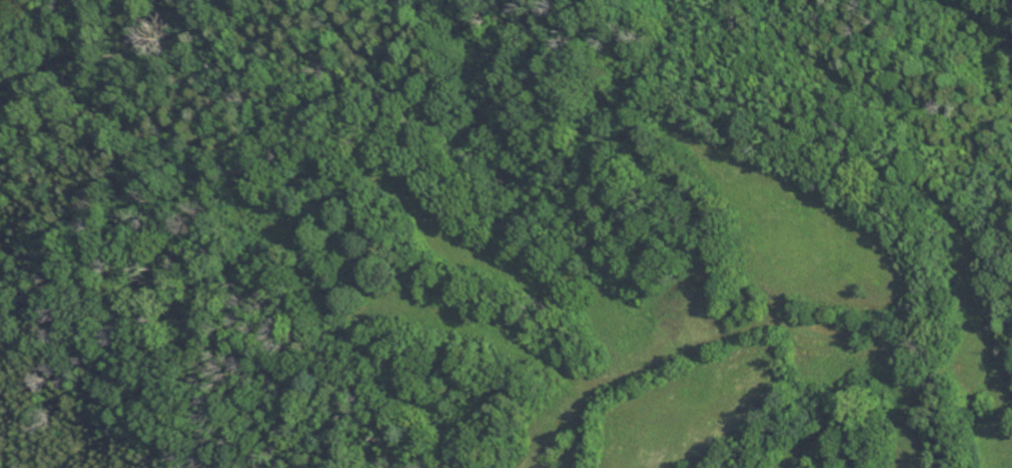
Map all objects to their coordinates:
road: (874, 384)

